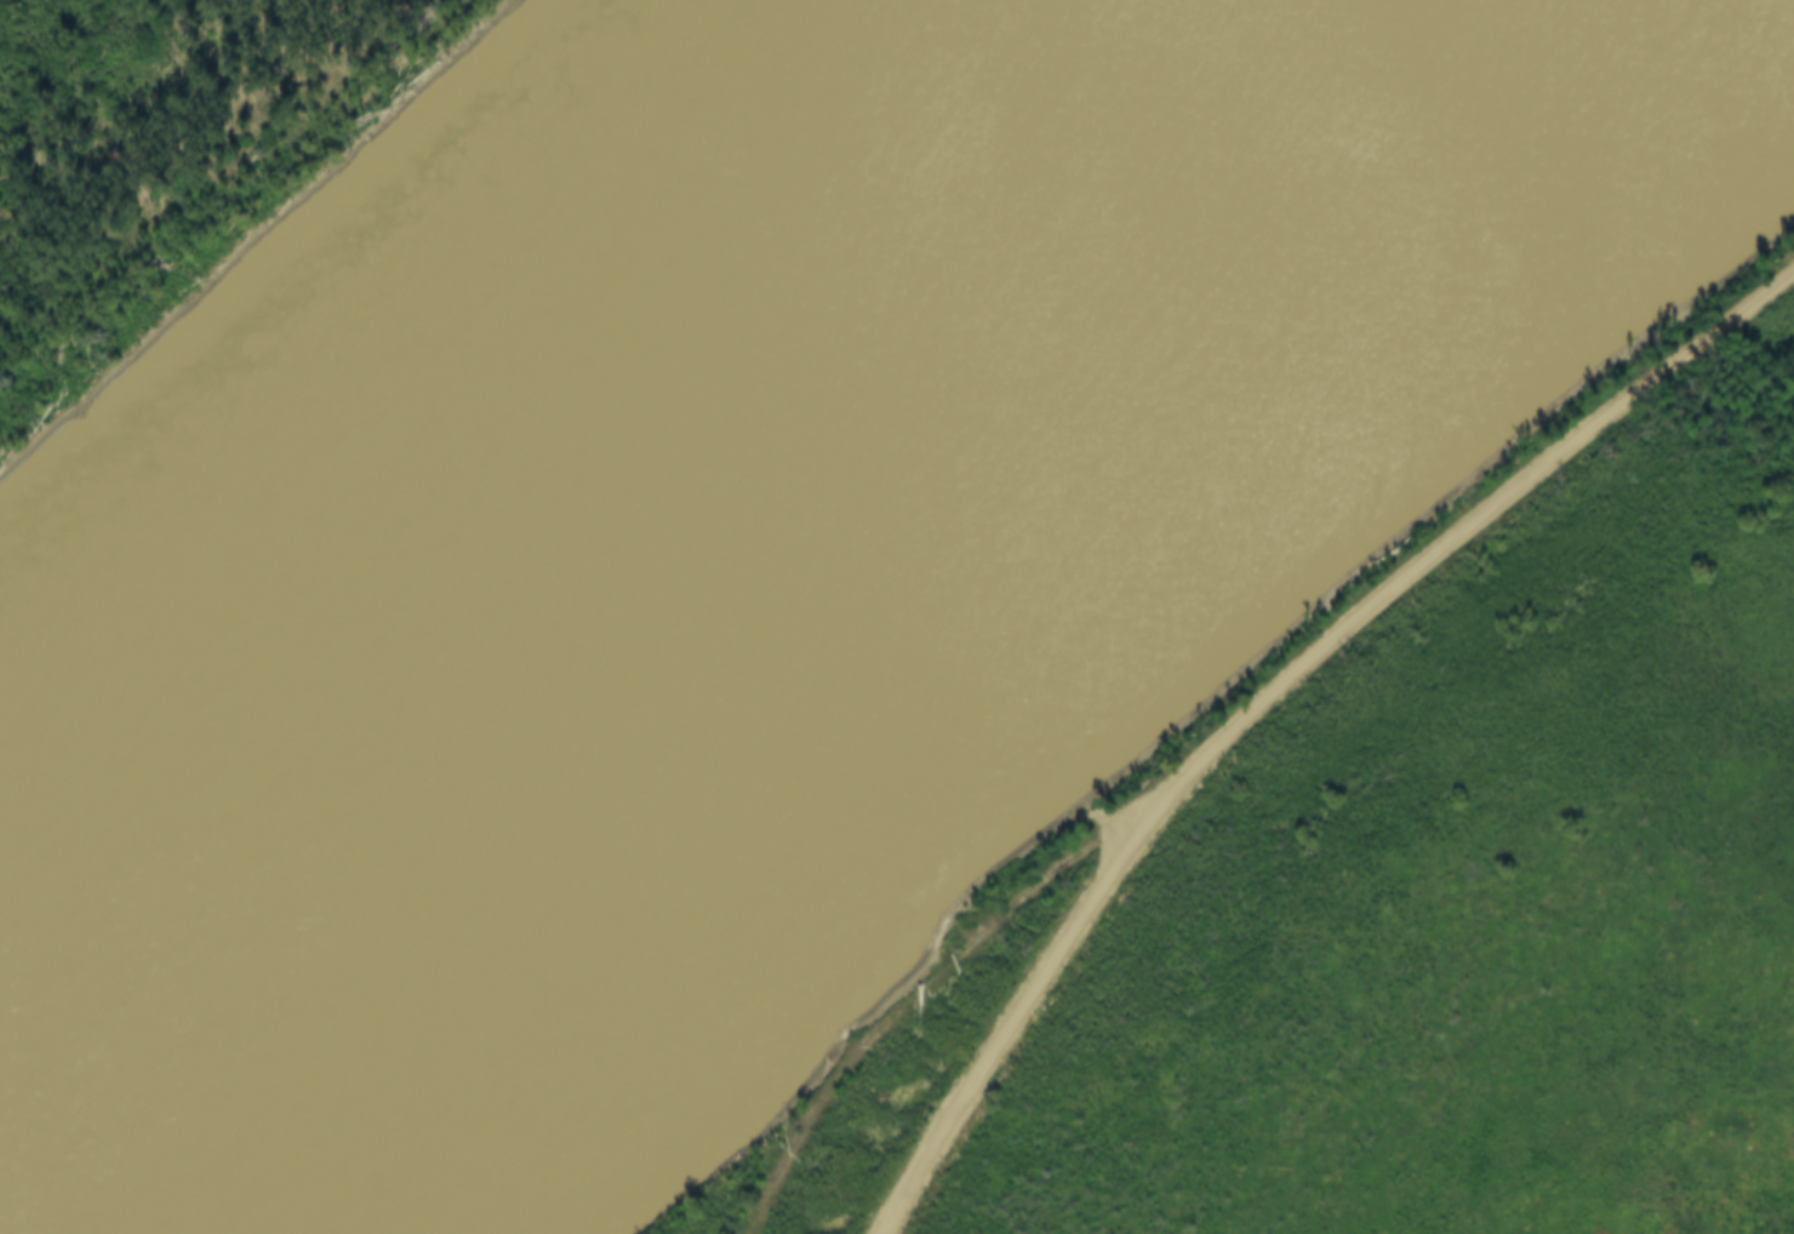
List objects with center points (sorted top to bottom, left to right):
river: (467, 402)
road: (1269, 691)
road: (915, 987)

